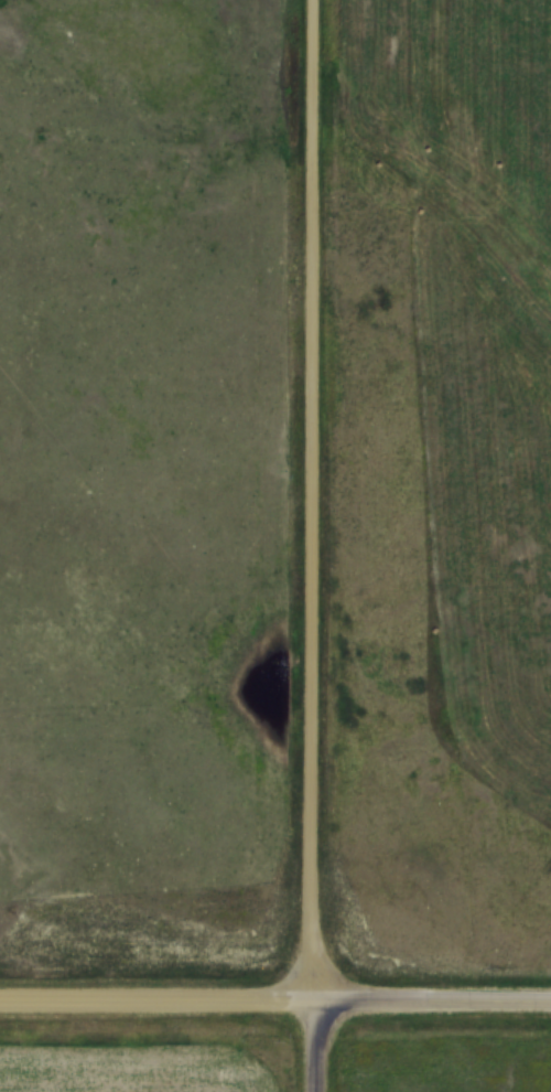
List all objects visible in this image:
road: (313, 501)
road: (155, 1000)
road: (431, 1000)
road: (311, 1047)

